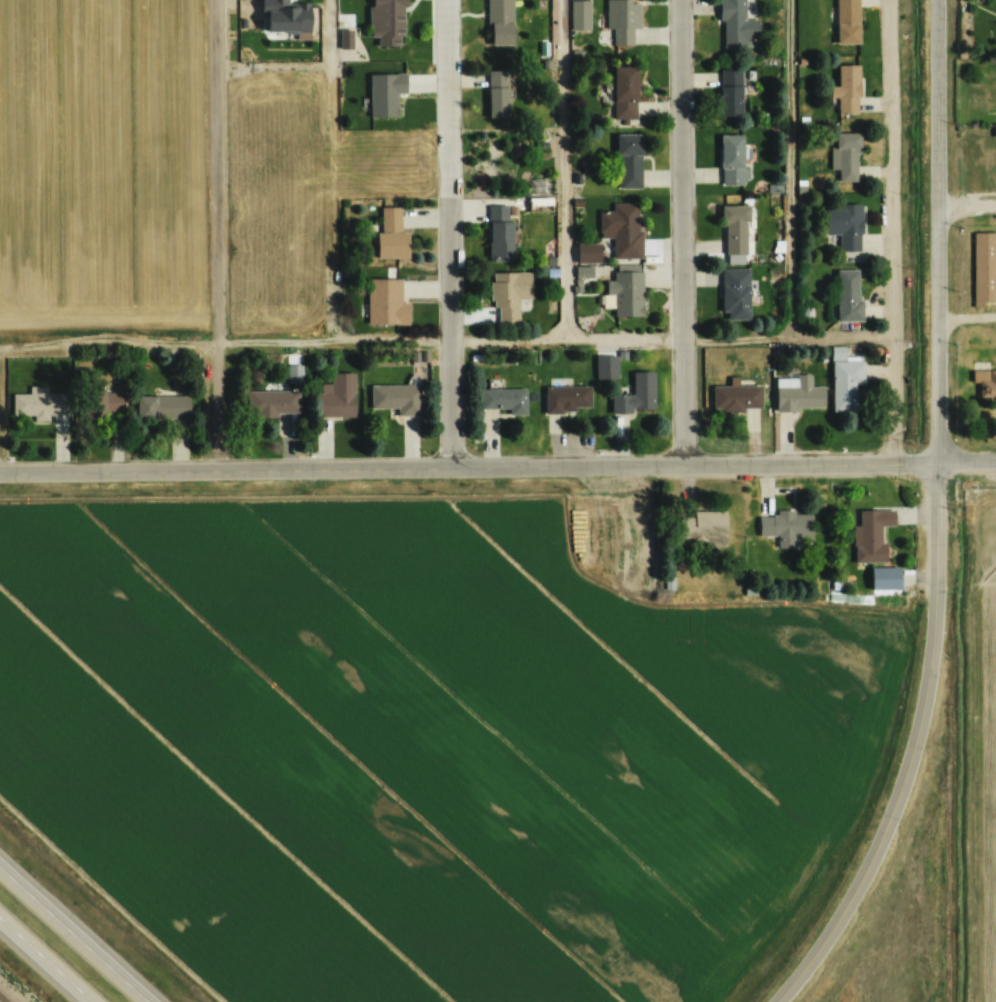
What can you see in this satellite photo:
building: (580, 15)
building: (286, 17)
building: (390, 17)
building: (624, 21)
building: (847, 21)
building: (500, 22)
building: (736, 23)
building: (846, 89)
building: (625, 92)
building: (730, 92)
building: (385, 94)
building: (498, 94)
building: (844, 156)
building: (733, 159)
building: (629, 161)
road: (795, 168)
road: (569, 169)
road: (331, 170)
building: (539, 183)
building: (540, 204)
road: (969, 206)
building: (844, 224)
building: (622, 228)
building: (735, 229)
road: (897, 230)
building: (501, 232)
road: (214, 233)
building: (391, 233)
road: (685, 233)
road: (451, 234)
building: (984, 267)
building: (509, 293)
building: (627, 293)
building: (735, 293)
building: (848, 294)
building: (386, 303)
road: (968, 317)
road: (559, 339)
road: (111, 345)
building: (845, 380)
building: (985, 382)
building: (636, 394)
building: (798, 394)
building: (337, 396)
building: (396, 398)
building: (737, 398)
building: (503, 399)
building: (566, 399)
building: (100, 402)
building: (41, 403)
building: (272, 403)
building: (162, 407)
road: (498, 467)
road: (937, 521)
building: (703, 527)
building: (787, 528)
building: (871, 535)
building: (885, 578)
building: (617, 581)
road: (74, 934)
road: (45, 959)
railway: (3, 998)

